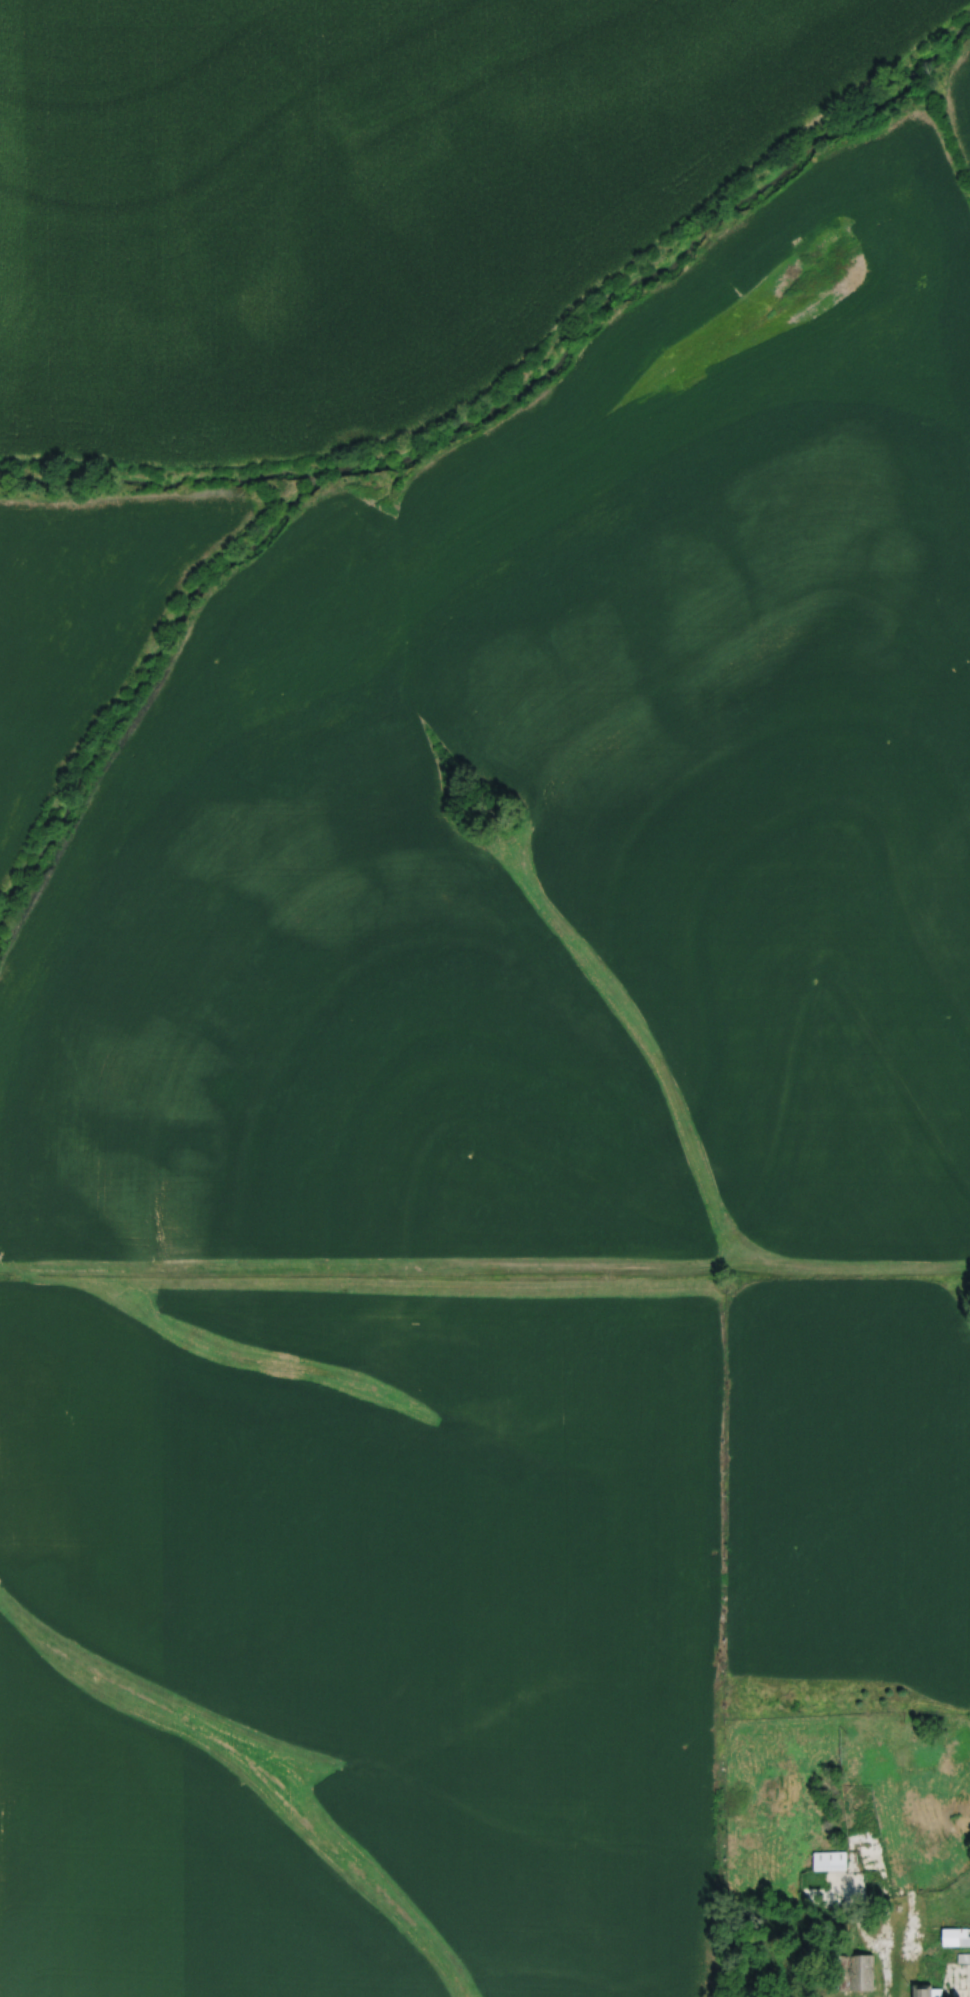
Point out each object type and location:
building: (828, 1861)
building: (955, 1937)
building: (963, 1958)
building: (853, 1973)
building: (926, 1991)

